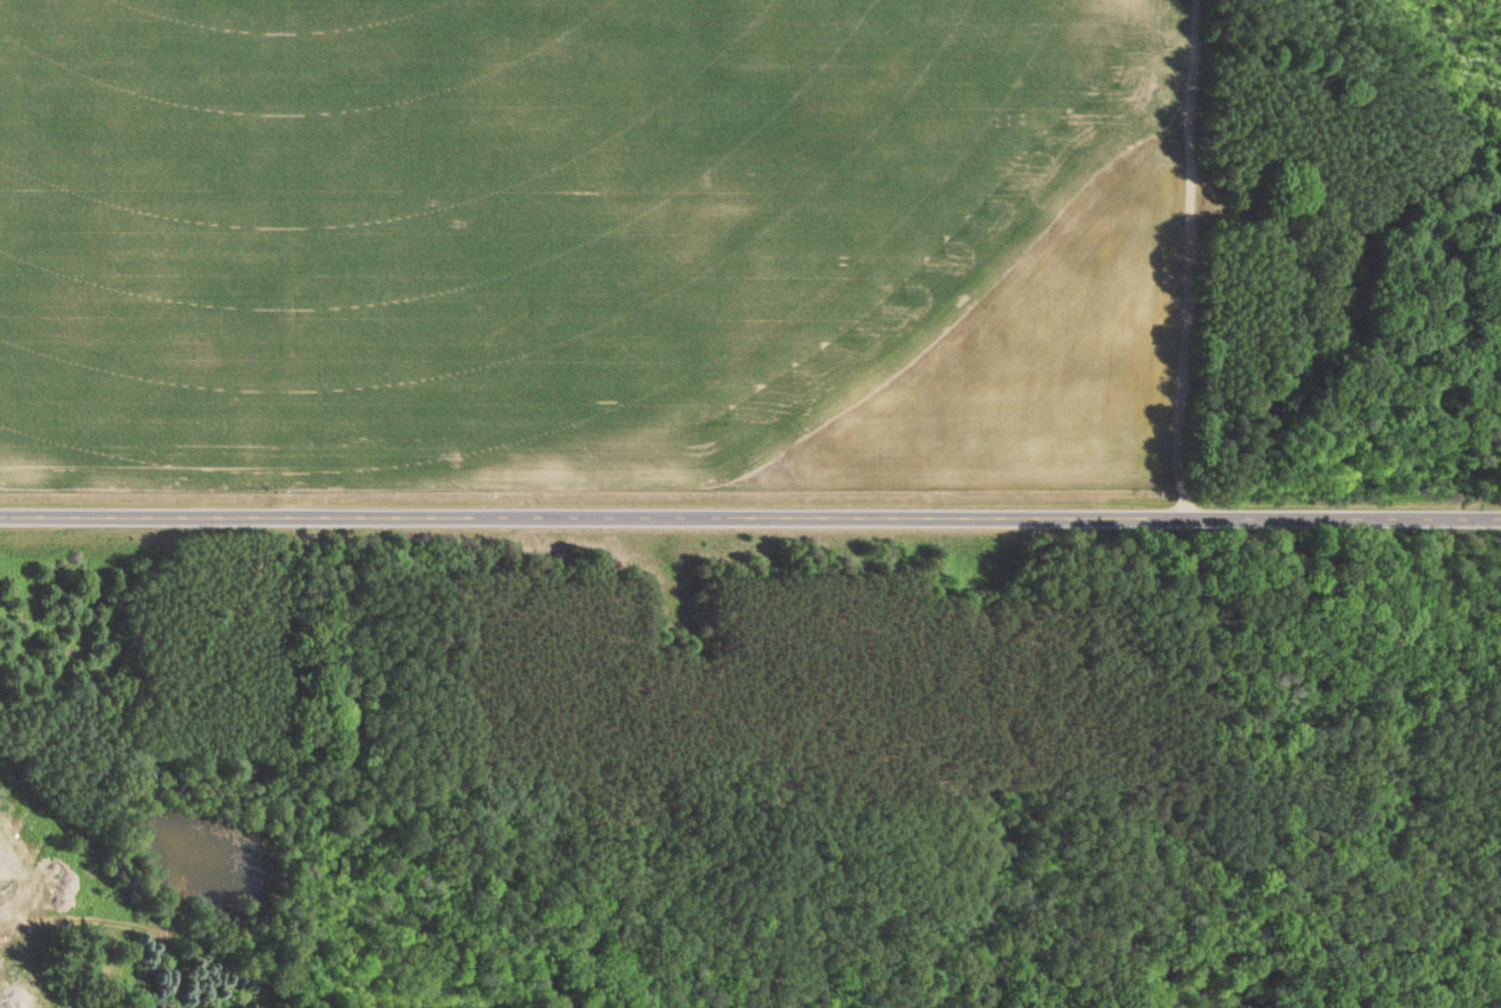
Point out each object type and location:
road: (750, 516)

